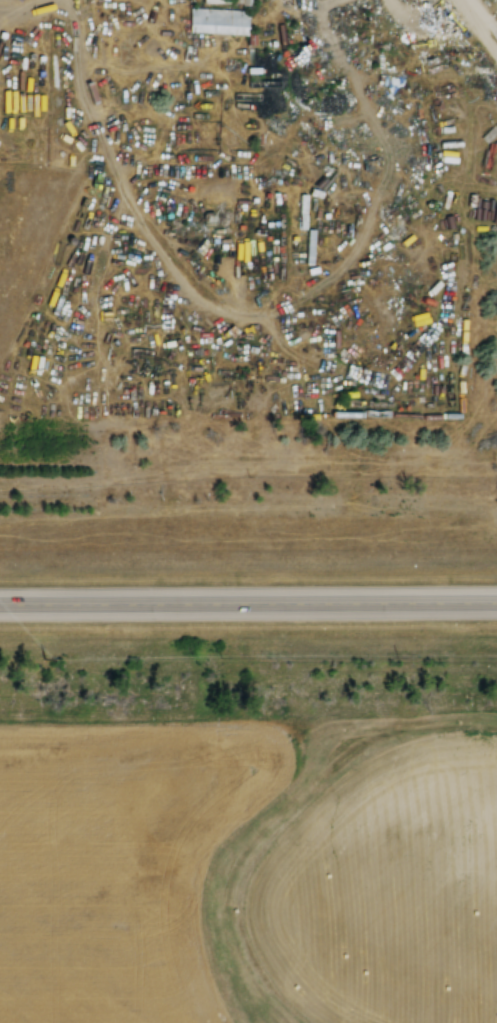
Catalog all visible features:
road: (488, 13)
building: (218, 19)
road: (248, 601)

